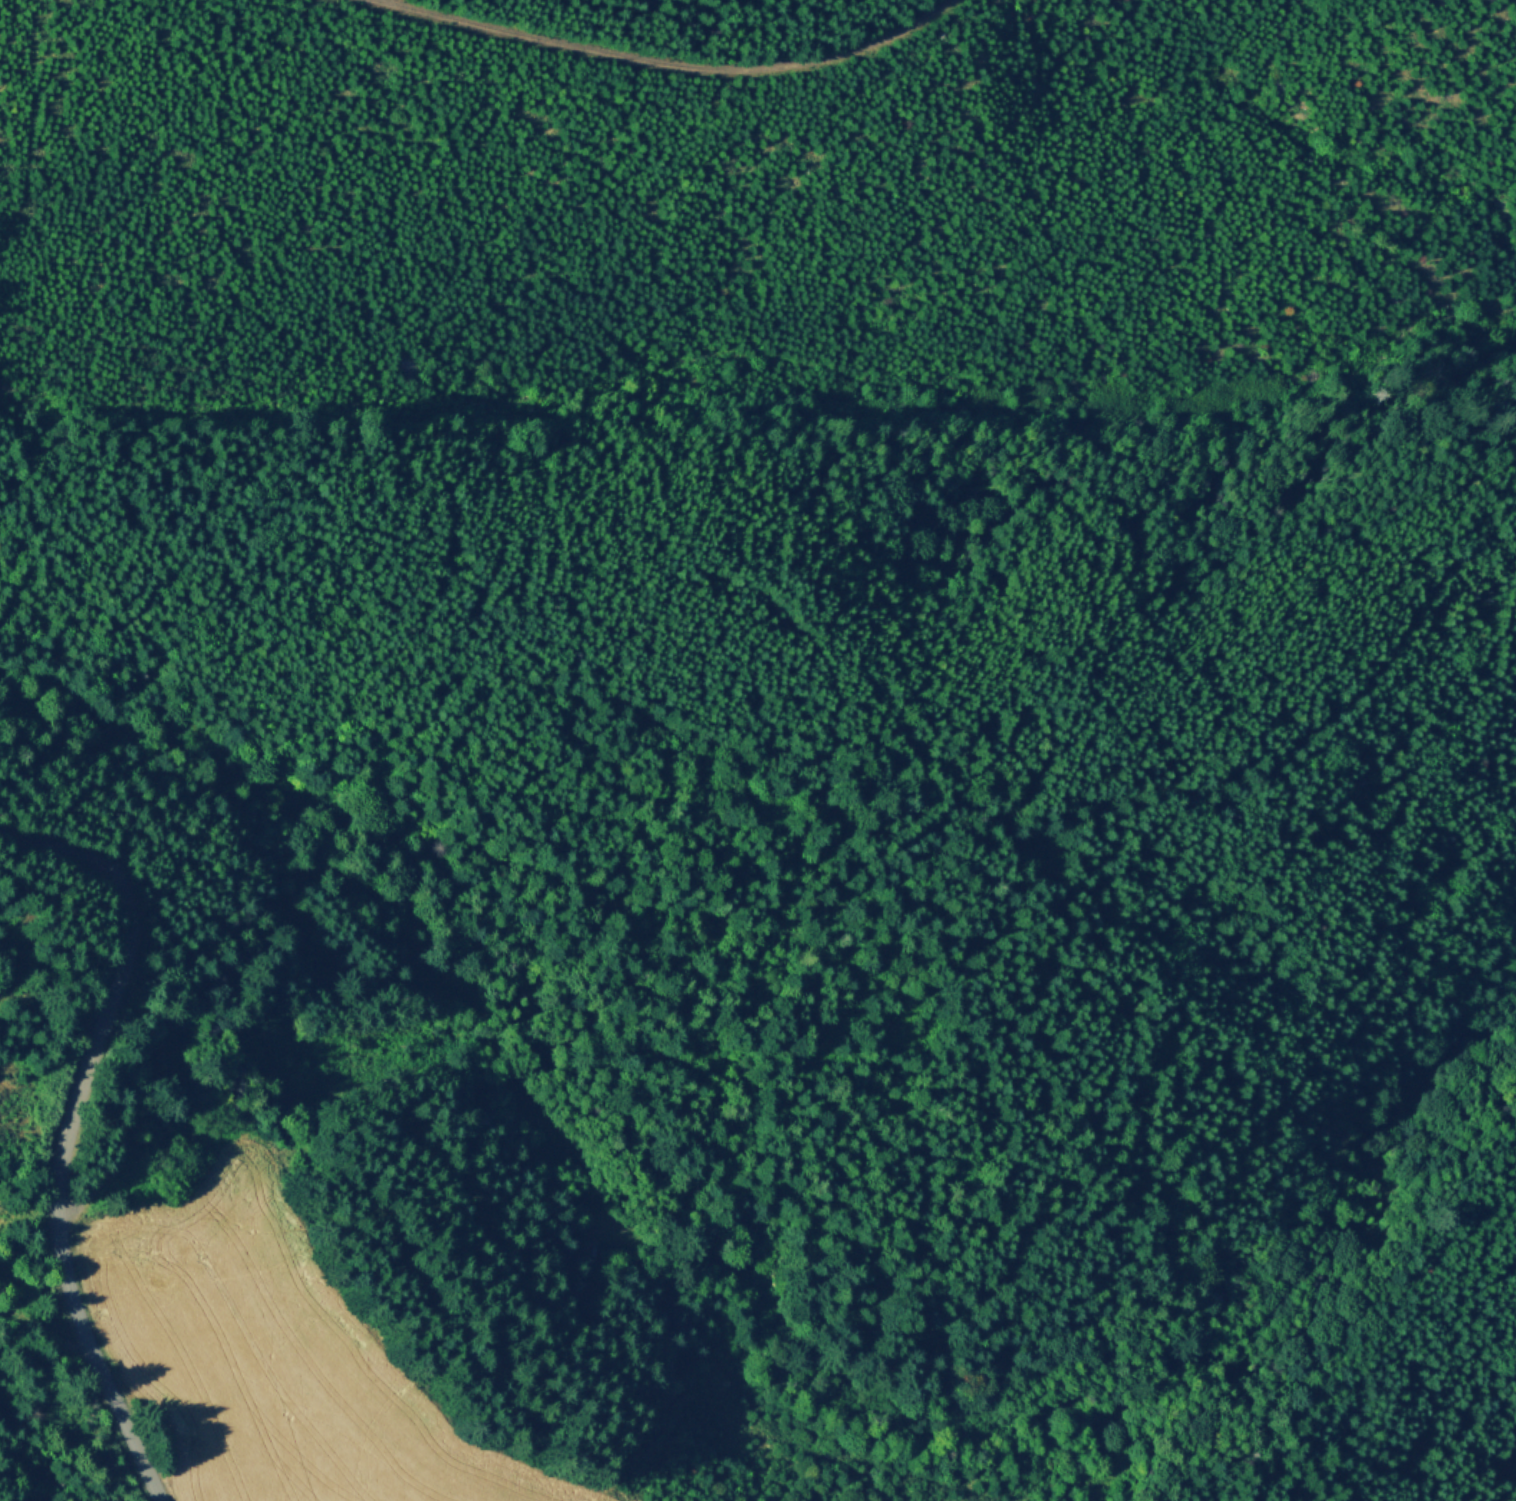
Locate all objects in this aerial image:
road: (658, 64)
road: (469, 585)
road: (834, 692)
road: (197, 755)
road: (876, 859)
road: (1004, 1024)
road: (488, 1027)
road: (71, 1132)
road: (1032, 1211)
crop: (257, 1361)
road: (1380, 1364)
road: (1501, 1475)

